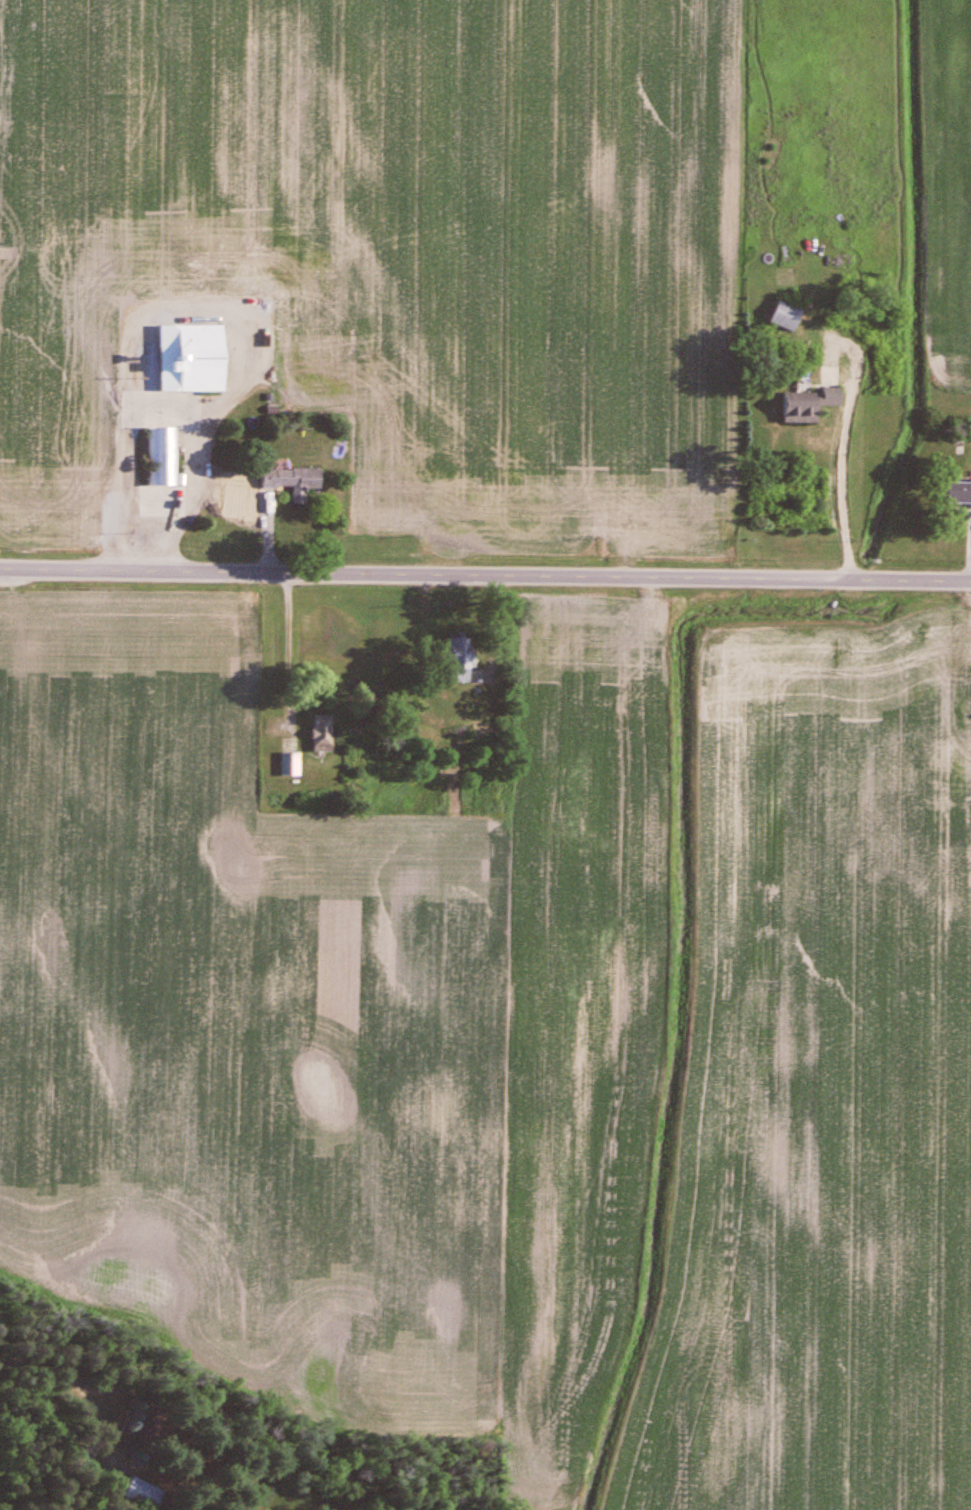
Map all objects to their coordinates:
road: (191, 291)
building: (780, 316)
building: (186, 358)
building: (800, 404)
road: (840, 438)
building: (160, 456)
building: (288, 481)
building: (954, 493)
road: (485, 580)
building: (455, 660)
building: (318, 734)
building: (287, 764)
road: (81, 1384)
building: (139, 1494)

